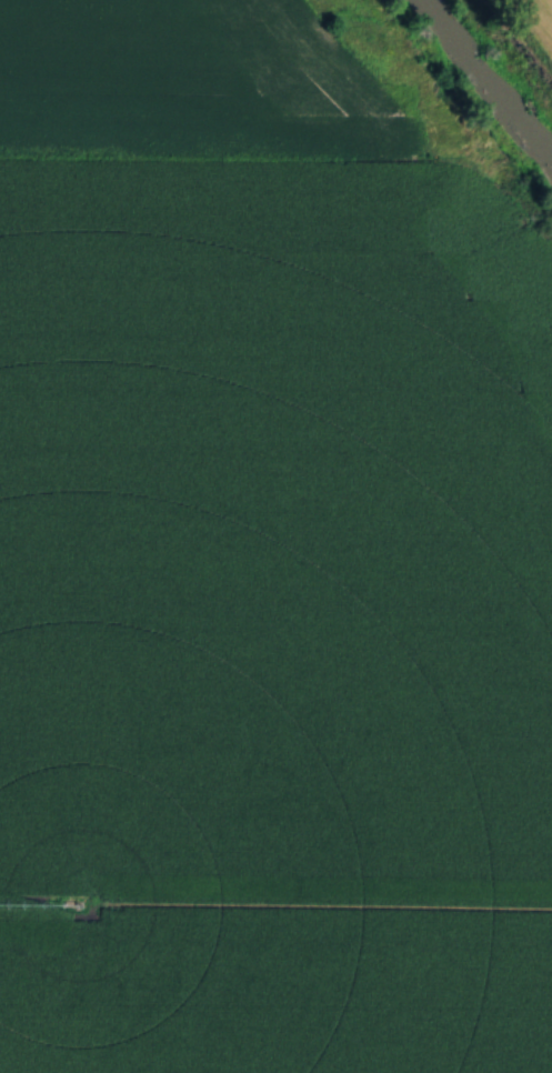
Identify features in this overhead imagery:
river: (489, 80)

